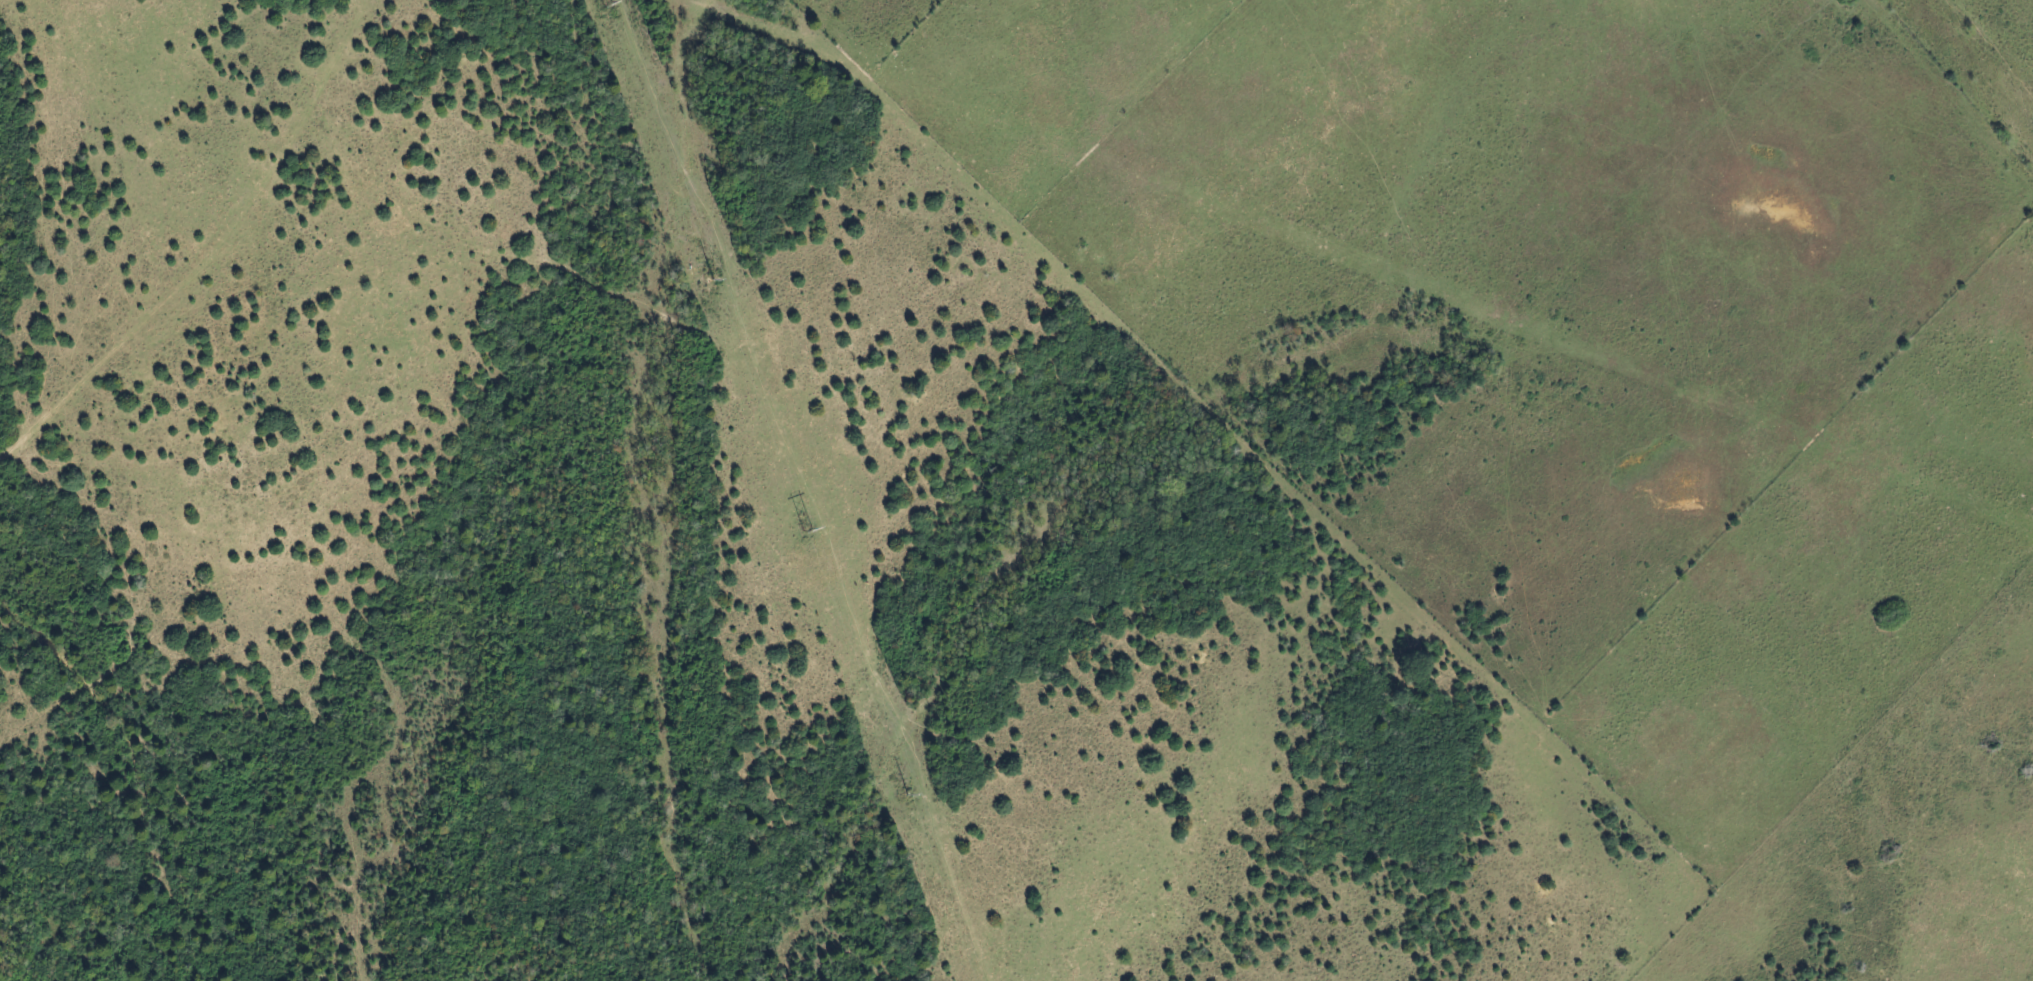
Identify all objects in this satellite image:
power tower: (602, 4)
power tower: (711, 280)
power tower: (803, 526)
power tower: (905, 795)

